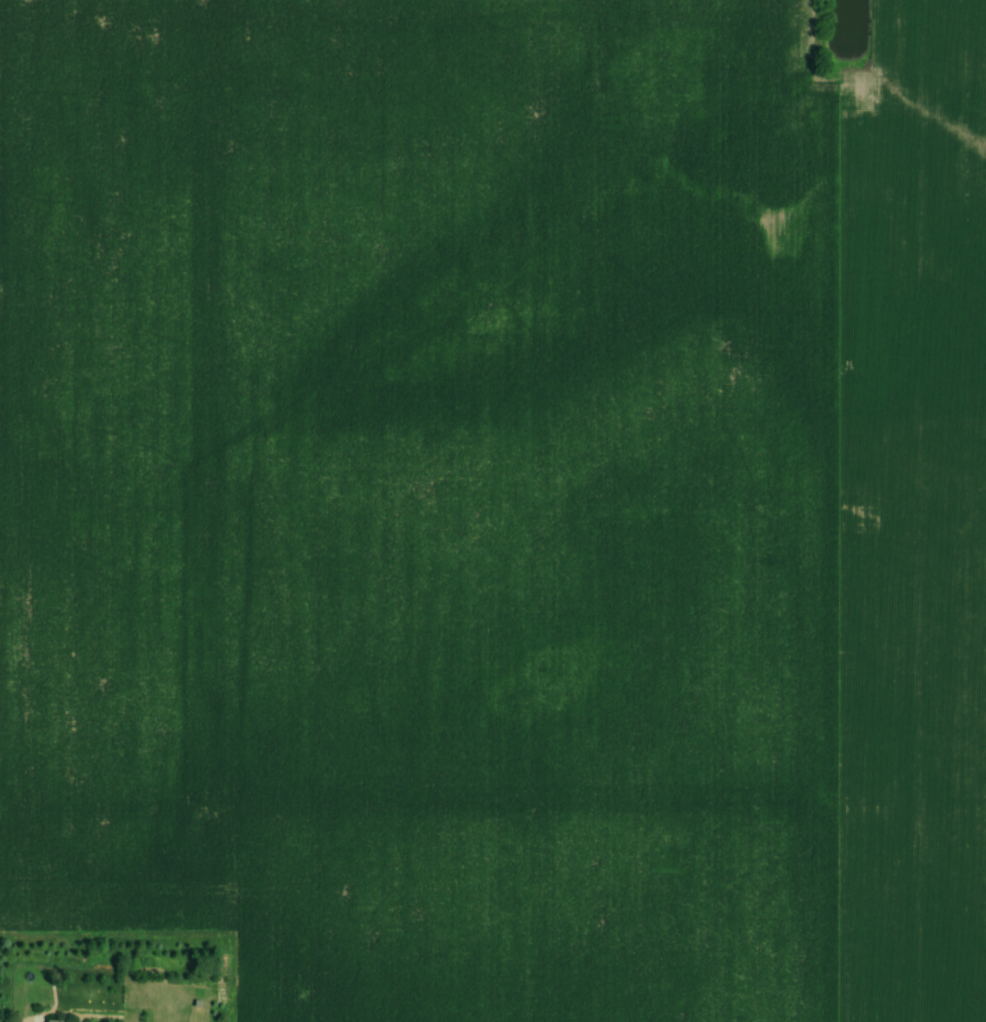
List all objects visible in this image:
building: (51, 1021)

